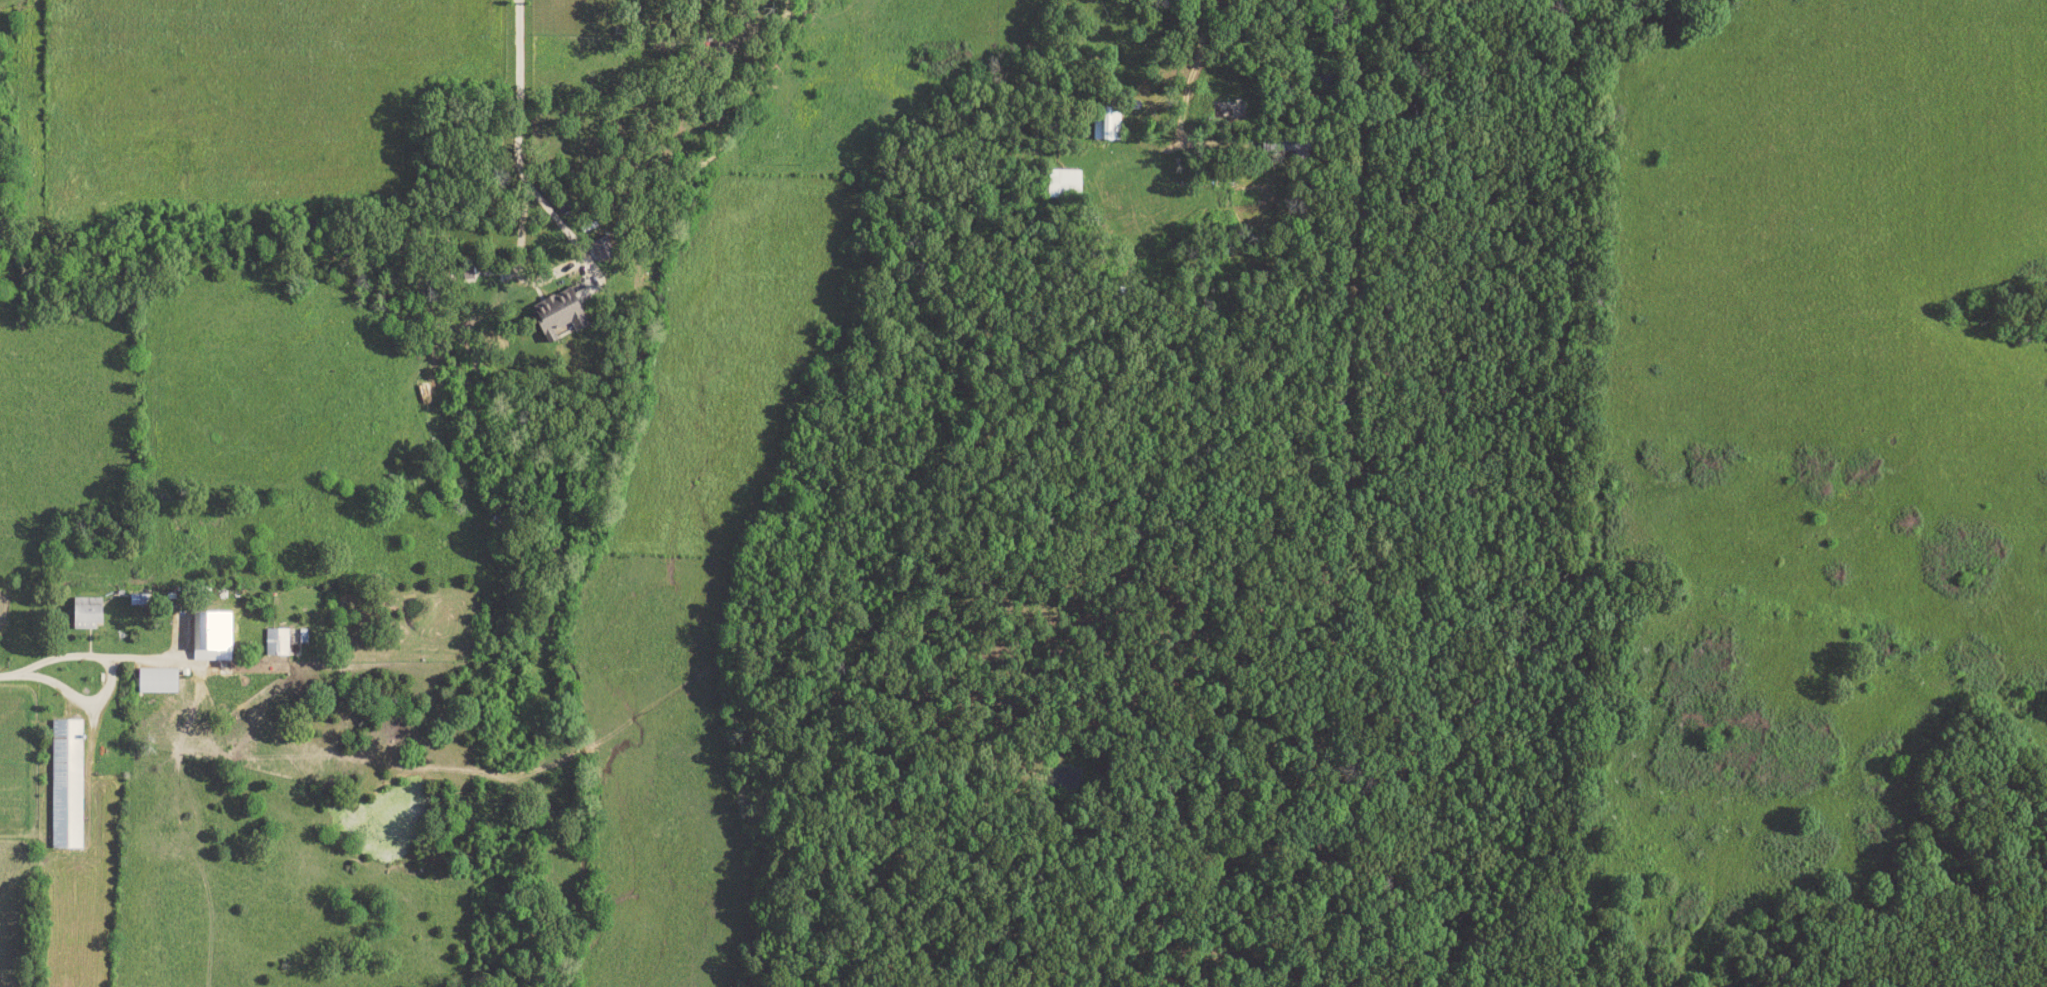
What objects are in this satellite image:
road: (1197, 40)
road: (518, 93)
building: (1108, 125)
road: (1143, 147)
building: (1065, 183)
building: (467, 272)
road: (547, 273)
building: (556, 316)
building: (84, 610)
building: (211, 636)
building: (276, 642)
road: (36, 661)
building: (156, 680)
building: (66, 784)

